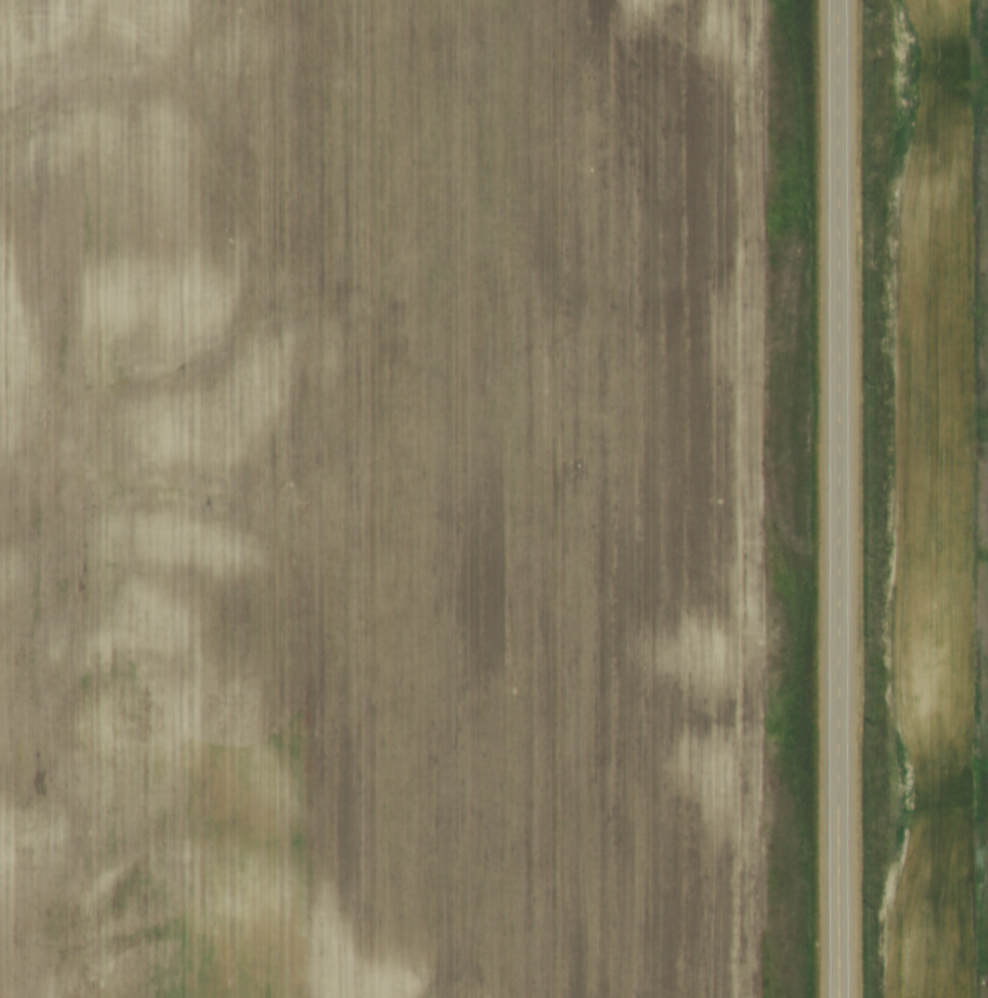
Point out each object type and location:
road: (842, 499)

